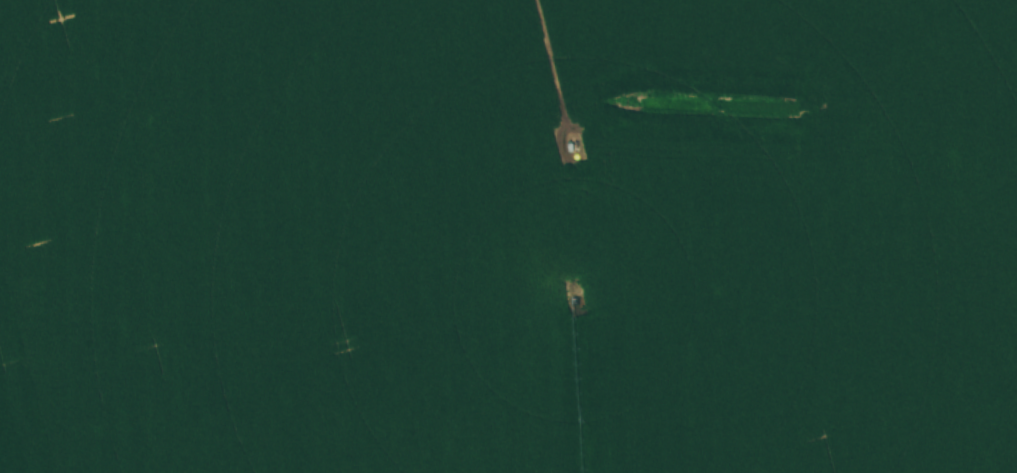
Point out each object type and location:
crop: (508, 236)

